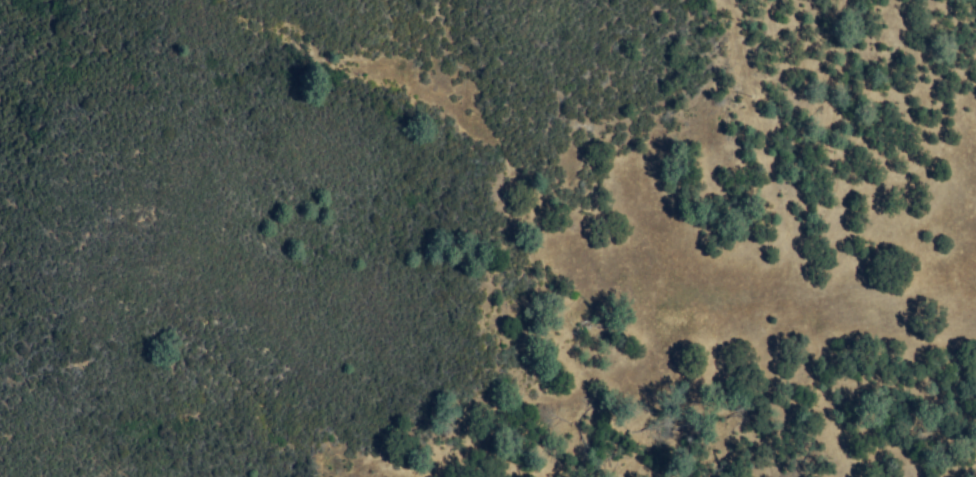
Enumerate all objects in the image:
road: (781, 241)

